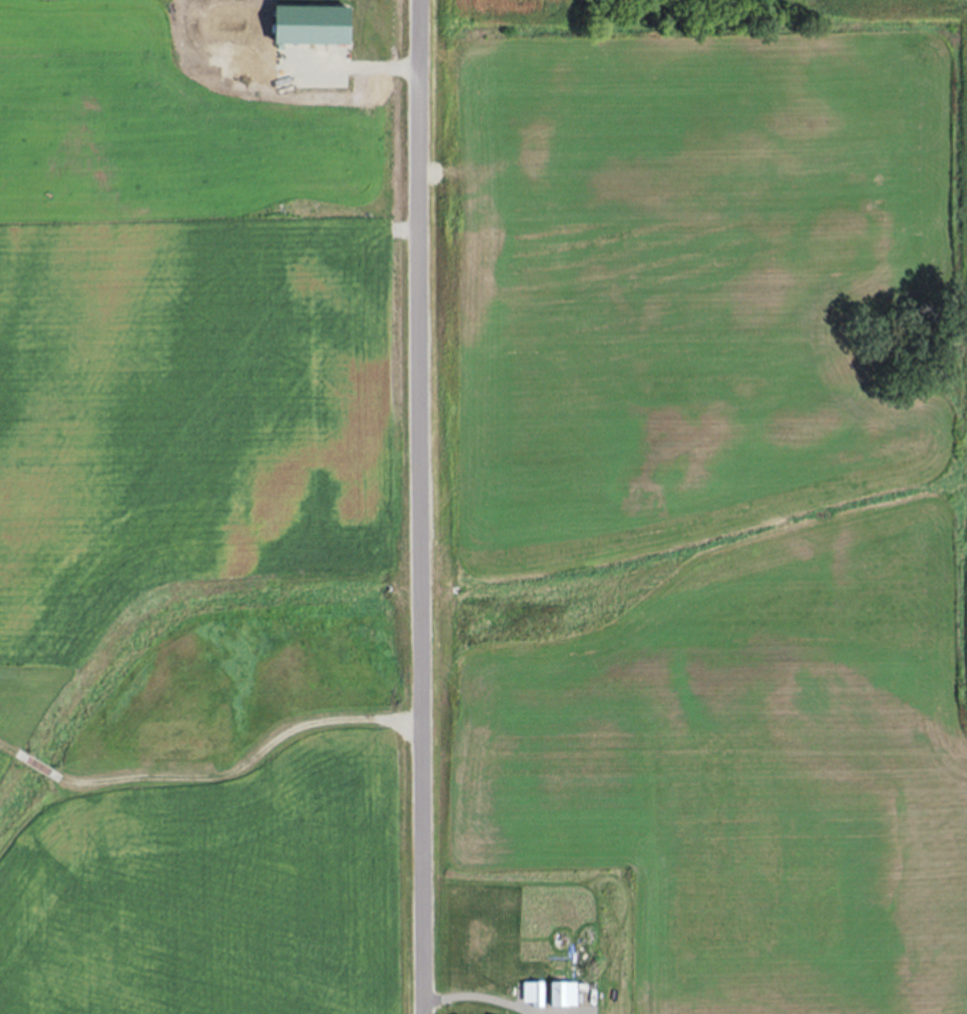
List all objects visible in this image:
building: (311, 25)
road: (349, 68)
road: (415, 359)
airport runway: (173, 498)
building: (176, 742)
road: (13, 753)
road: (37, 767)
road: (242, 771)
road: (425, 865)
road: (484, 993)
building: (532, 993)
building: (561, 994)

